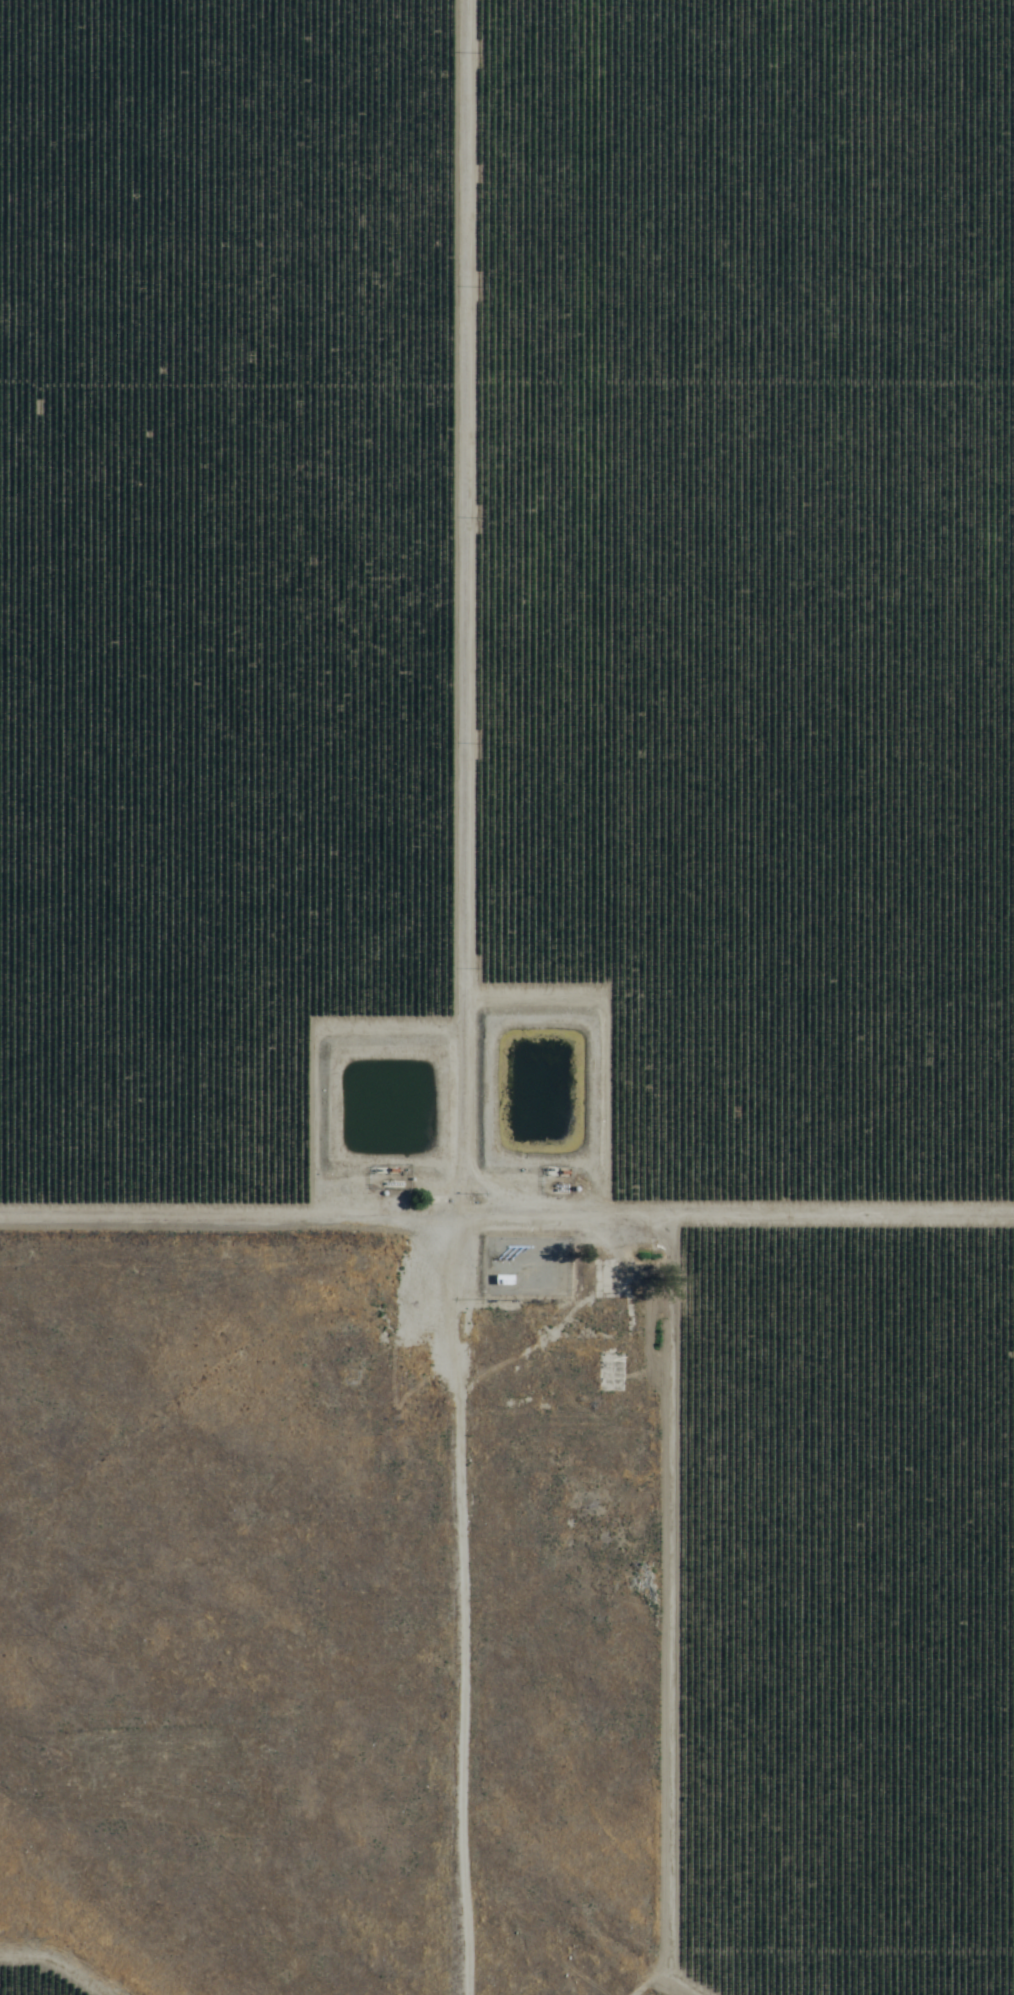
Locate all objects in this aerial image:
crop: (568, 780)
road: (490, 997)
road: (507, 1223)
road: (567, 1965)
crop: (39, 1980)

